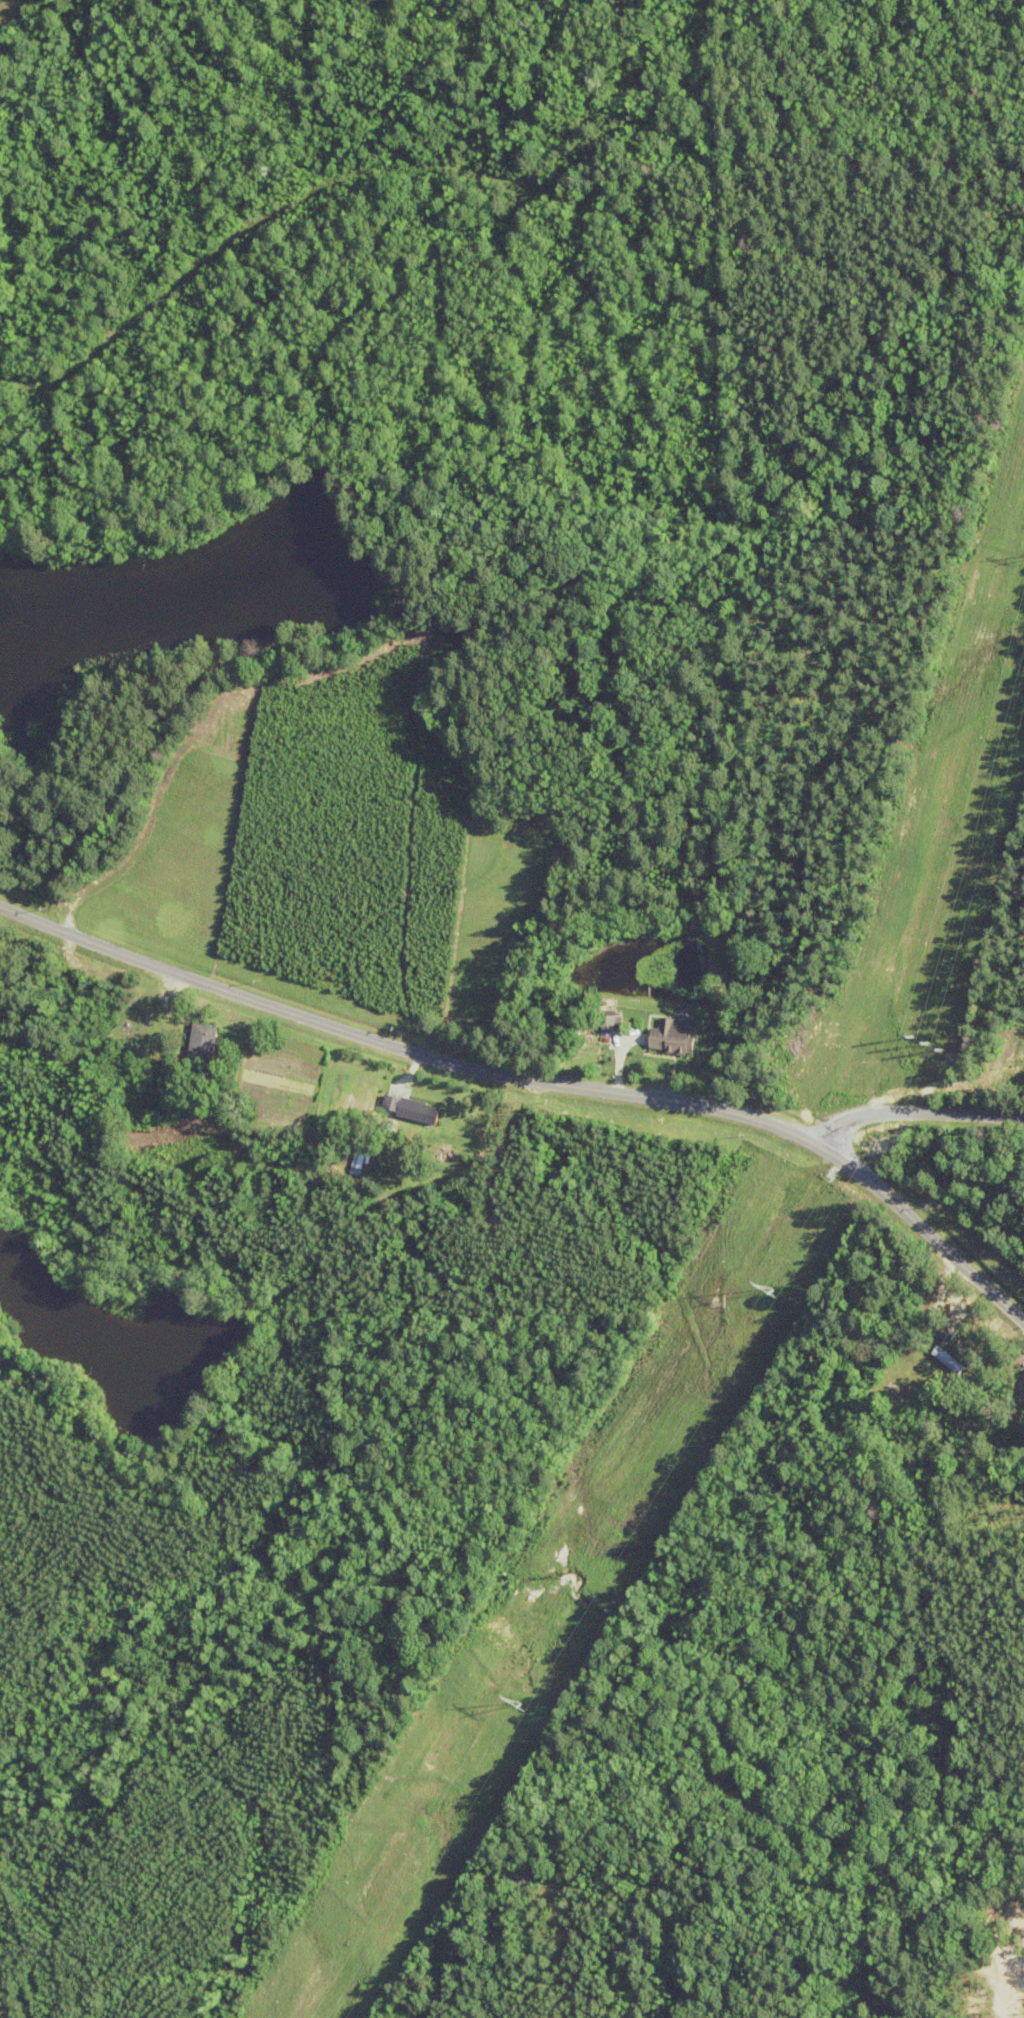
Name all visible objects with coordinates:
building: (613, 1022)
building: (677, 1036)
building: (203, 1041)
power tower: (930, 1042)
road: (534, 1079)
building: (419, 1111)
road: (917, 1111)
building: (360, 1159)
power tower: (774, 1290)
building: (949, 1359)
building: (1000, 1432)
power tower: (525, 1702)

